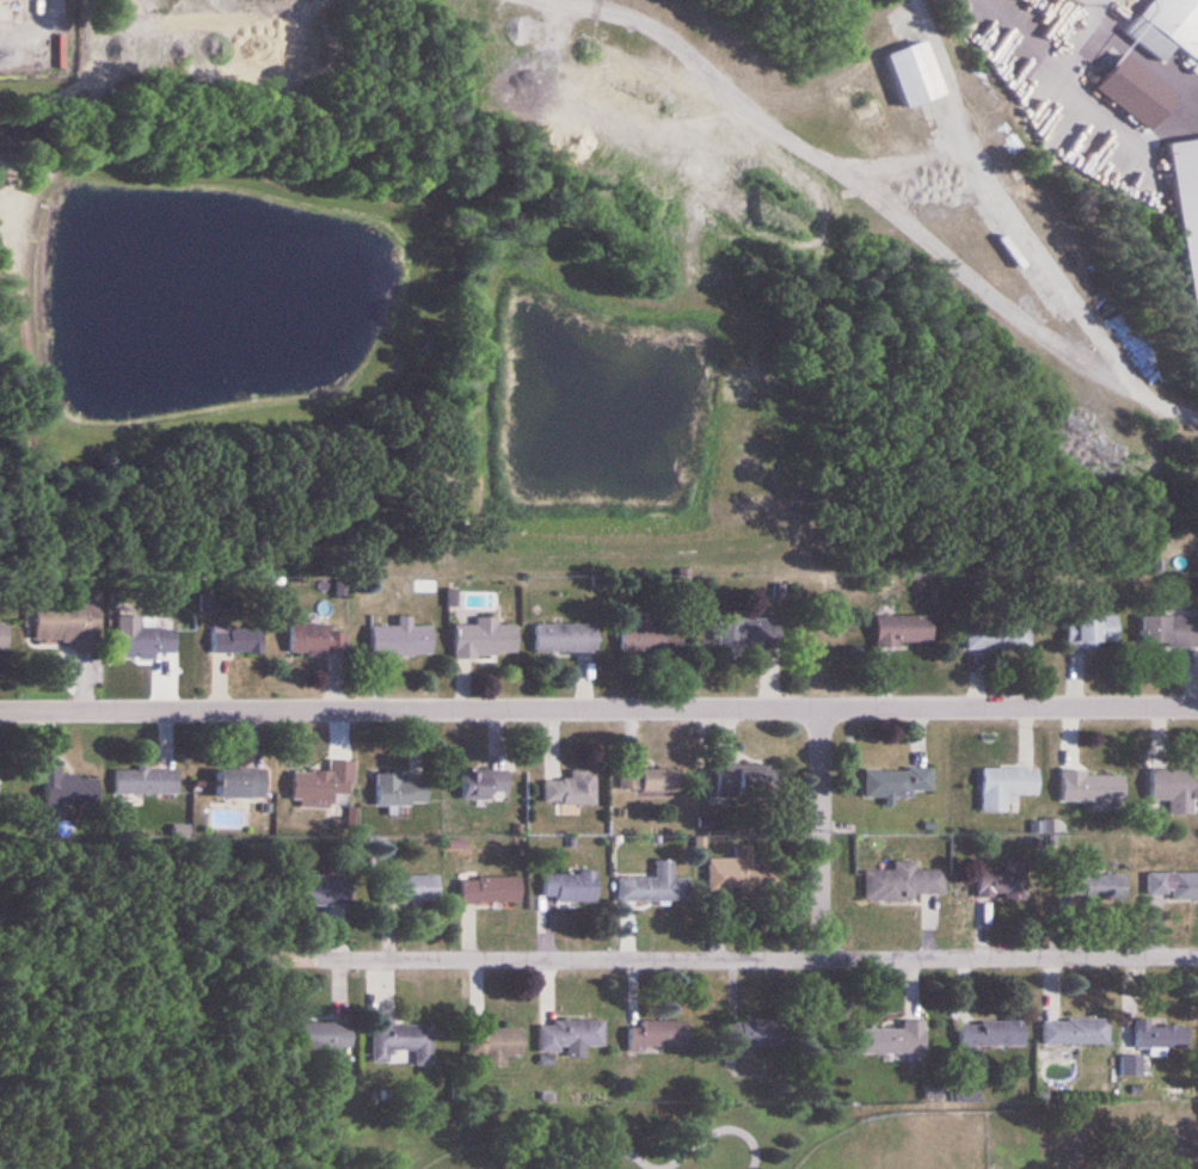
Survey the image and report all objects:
building: (1168, 27)
building: (916, 75)
building: (1138, 93)
road: (877, 197)
building: (1188, 205)
road: (29, 402)
building: (69, 625)
building: (904, 632)
building: (754, 633)
building: (1093, 633)
building: (1169, 633)
building: (644, 638)
building: (566, 639)
building: (999, 639)
building: (236, 640)
building: (486, 640)
building: (2, 641)
building: (401, 641)
building: (146, 642)
building: (319, 644)
road: (598, 708)
building: (651, 781)
building: (146, 783)
building: (898, 783)
building: (241, 785)
building: (484, 785)
building: (749, 785)
building: (1007, 788)
building: (66, 789)
building: (318, 789)
building: (571, 789)
building: (1092, 789)
building: (1175, 790)
building: (399, 792)
road: (822, 833)
building: (742, 875)
building: (904, 884)
building: (1001, 885)
building: (1173, 885)
building: (570, 887)
building: (655, 887)
building: (1096, 887)
building: (410, 890)
building: (322, 891)
building: (490, 891)
road: (745, 959)
building: (754, 1033)
building: (1075, 1033)
building: (659, 1035)
building: (991, 1035)
building: (321, 1036)
building: (1161, 1036)
building: (570, 1038)
building: (896, 1040)
building: (400, 1041)
building: (494, 1044)
park: (757, 1139)
park: (907, 1144)
park: (491, 1158)

